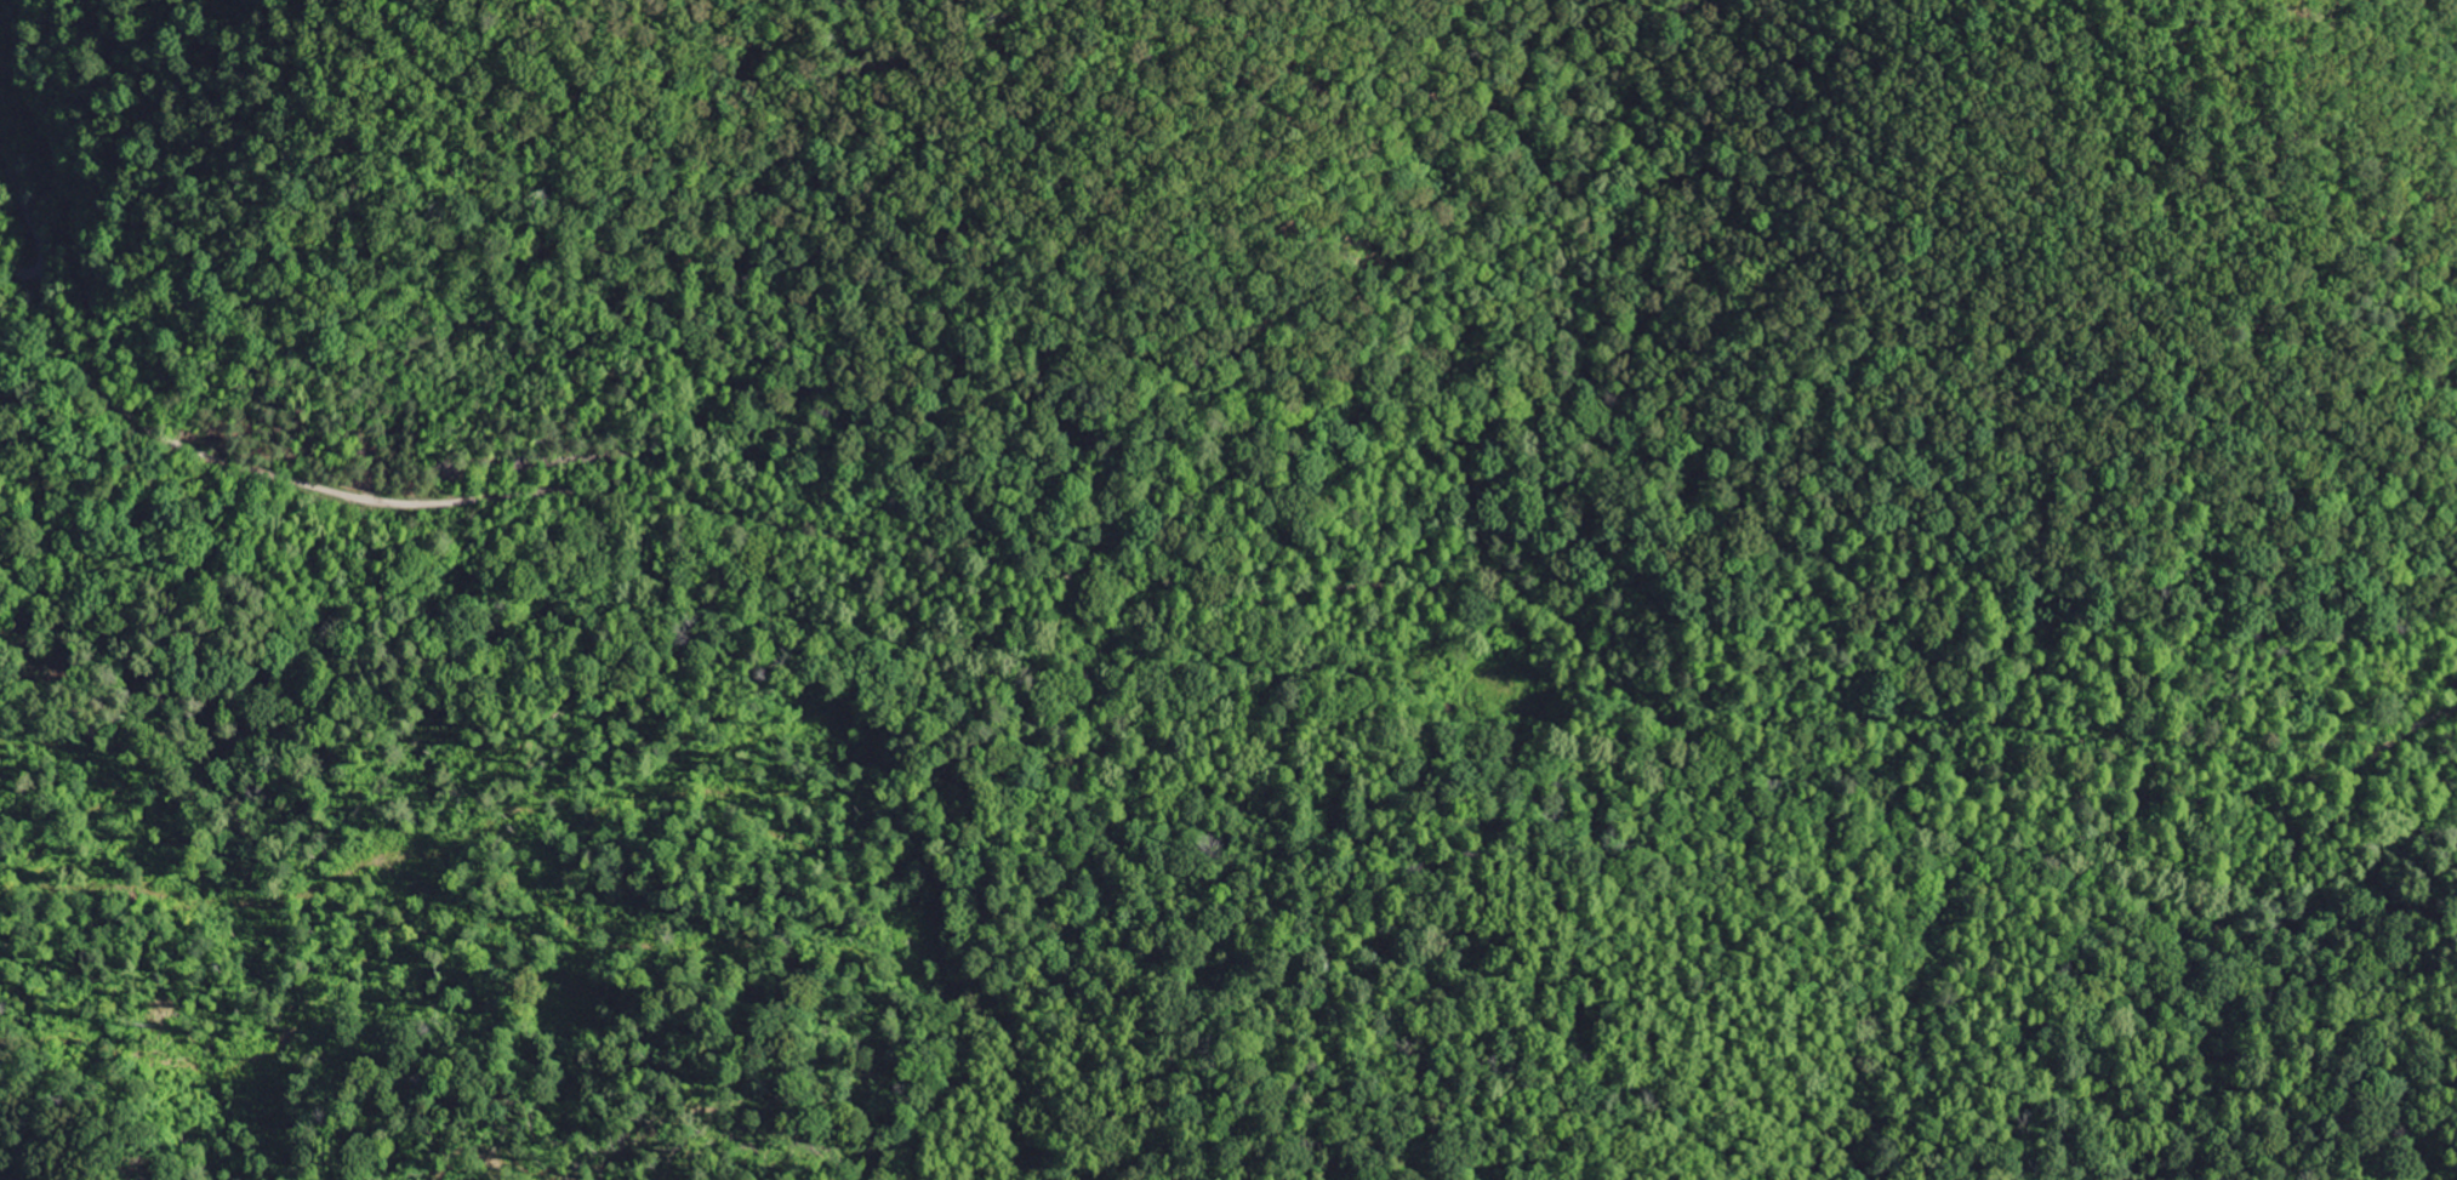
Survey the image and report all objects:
road: (32, 213)

